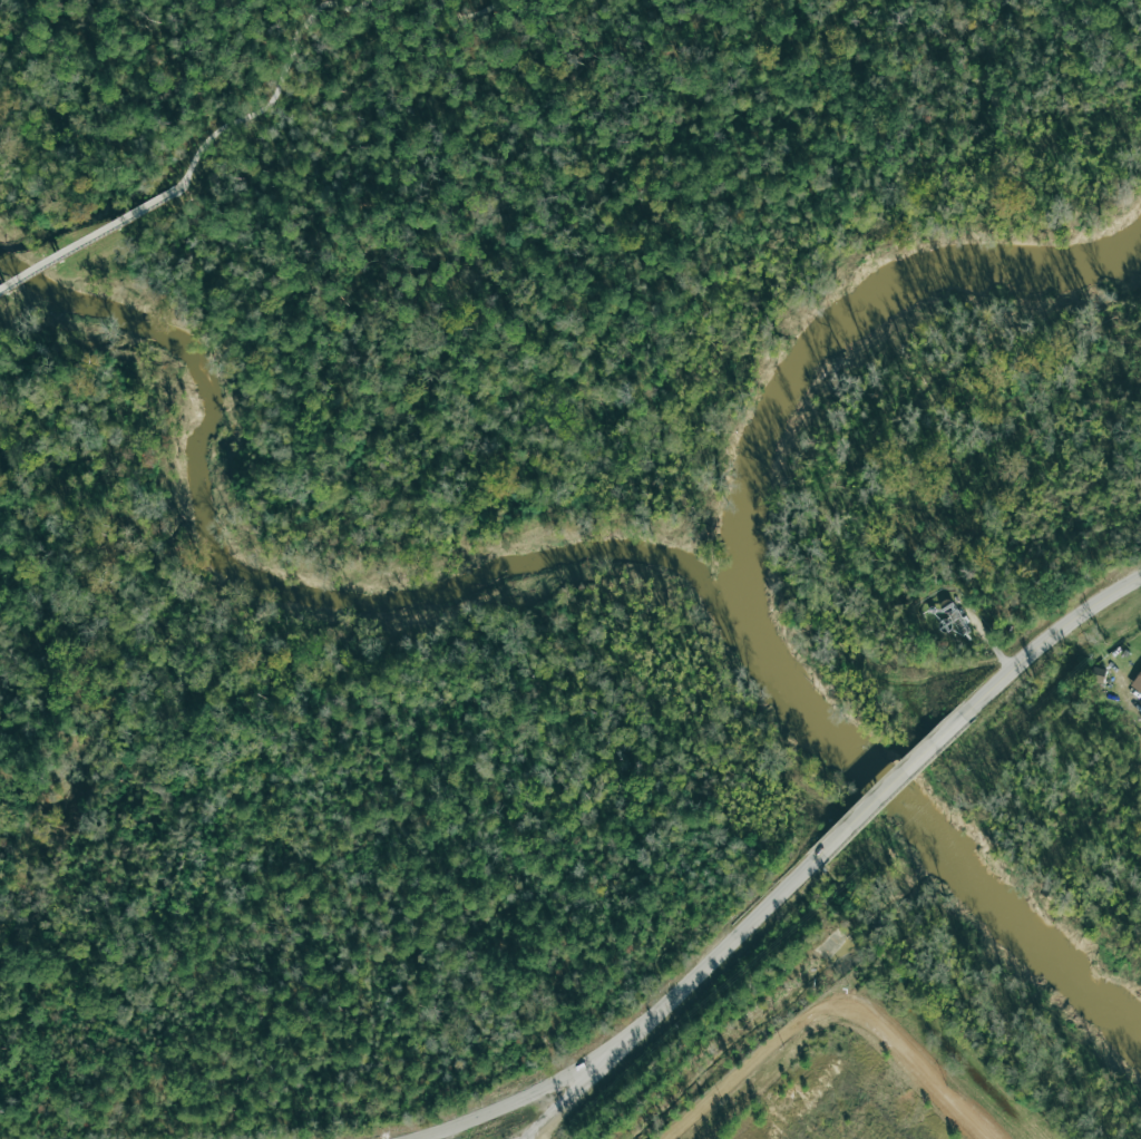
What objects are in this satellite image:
road: (460, 17)
road: (274, 85)
road: (89, 236)
park: (436, 495)
river: (742, 582)
river: (308, 600)
road: (1050, 635)
building: (1137, 683)
road: (932, 744)
road: (817, 857)
road: (681, 991)
road: (831, 999)
road: (573, 1093)
road: (523, 1098)
road: (525, 1138)

